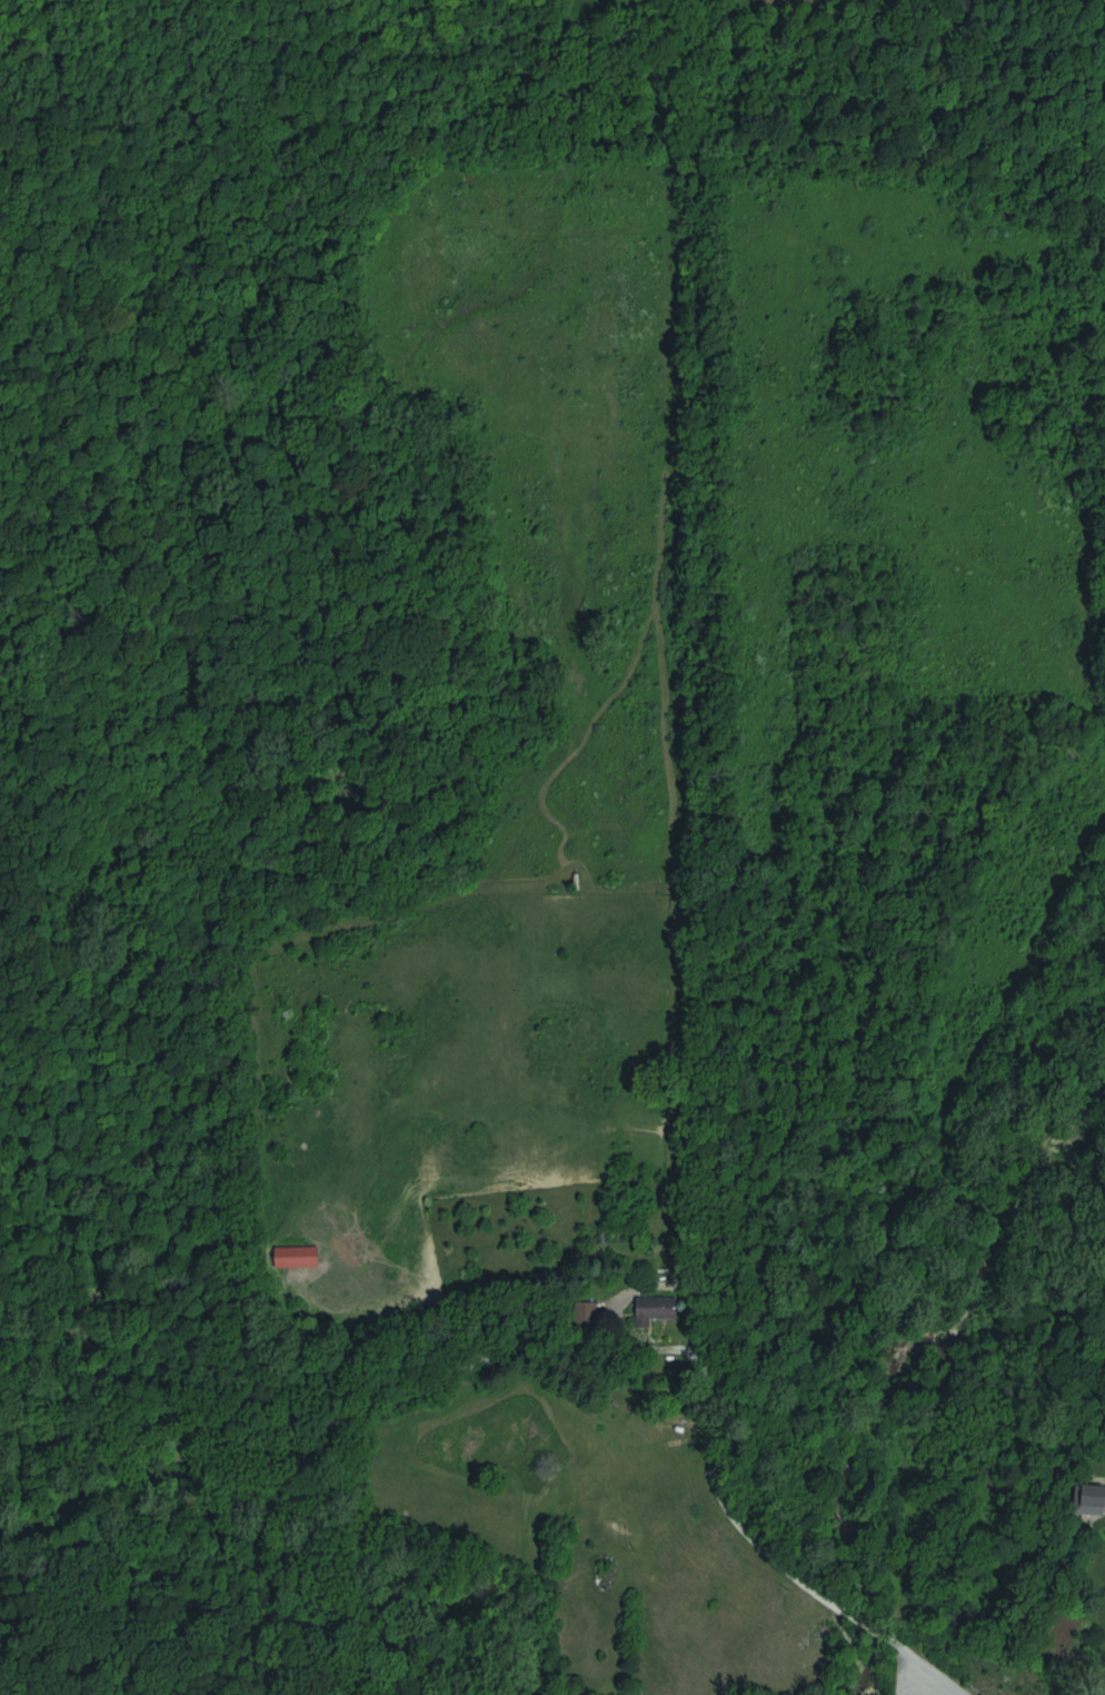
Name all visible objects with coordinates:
building: (295, 1256)
building: (1093, 1497)
road: (764, 1542)

